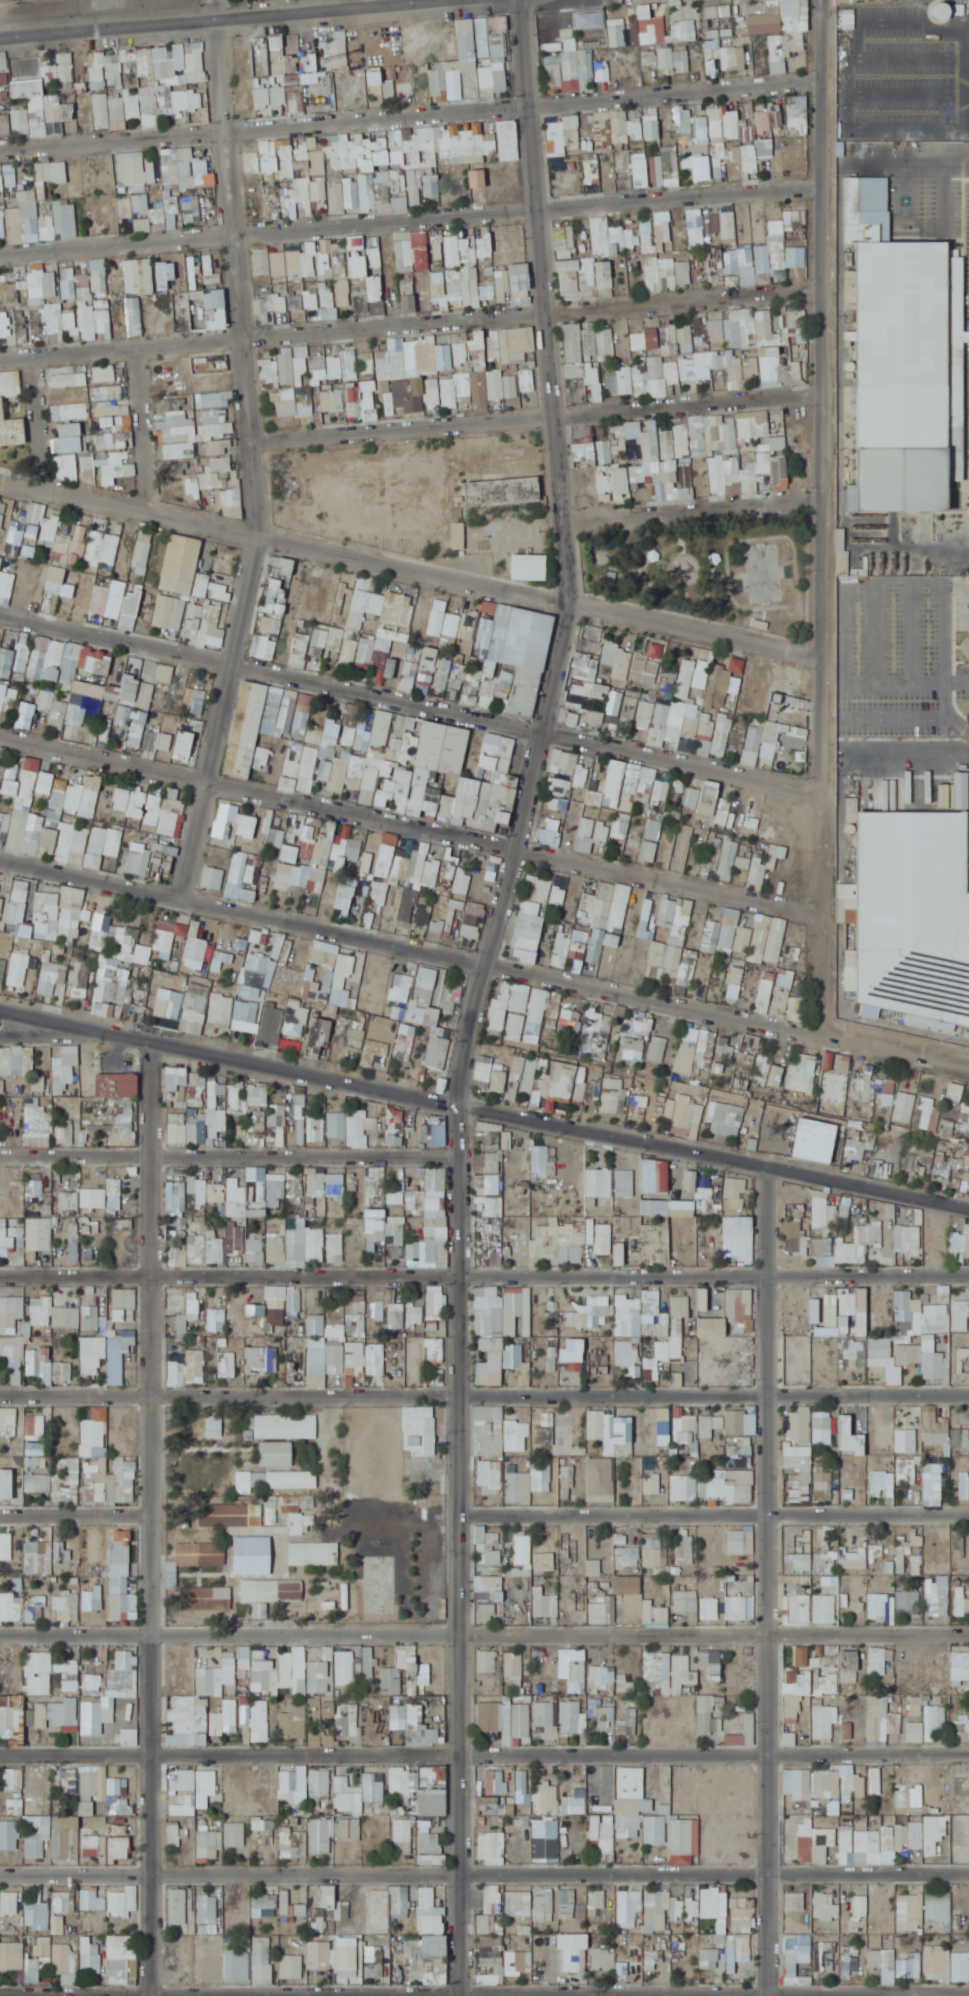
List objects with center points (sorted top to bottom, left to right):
building: (718, 11)
road: (194, 16)
building: (766, 20)
building: (648, 27)
building: (682, 30)
building: (617, 35)
building: (339, 49)
building: (777, 54)
building: (671, 58)
building: (733, 58)
building: (649, 60)
building: (279, 61)
building: (473, 61)
building: (194, 62)
building: (57, 69)
building: (602, 71)
building: (563, 72)
building: (4, 81)
building: (374, 82)
building: (389, 89)
building: (107, 93)
building: (270, 97)
building: (295, 97)
road: (409, 111)
building: (42, 117)
building: (682, 120)
building: (762, 123)
building: (4, 124)
building: (718, 124)
building: (624, 129)
building: (700, 130)
building: (747, 133)
building: (561, 138)
building: (459, 140)
building: (322, 152)
building: (263, 160)
building: (695, 165)
building: (671, 168)
building: (183, 170)
building: (591, 172)
building: (647, 172)
building: (50, 175)
building: (477, 178)
building: (0, 185)
building: (389, 187)
building: (134, 190)
building: (365, 193)
building: (337, 197)
building: (293, 199)
building: (855, 200)
building: (399, 202)
building: (173, 207)
building: (191, 209)
road: (410, 217)
building: (797, 219)
building: (39, 220)
building: (728, 222)
building: (2, 227)
building: (695, 227)
building: (663, 233)
building: (610, 238)
building: (564, 241)
building: (777, 245)
building: (407, 247)
building: (475, 248)
building: (746, 259)
building: (568, 266)
building: (603, 274)
building: (658, 274)
building: (138, 276)
building: (287, 278)
building: (85, 280)
building: (36, 284)
building: (510, 286)
building: (456, 288)
building: (194, 289)
building: (368, 292)
building: (408, 295)
building: (135, 317)
building: (796, 321)
road: (410, 322)
building: (764, 326)
building: (18, 329)
building: (722, 331)
building: (683, 338)
building: (645, 340)
building: (581, 345)
building: (604, 354)
building: (387, 357)
building: (495, 359)
building: (302, 360)
building: (367, 362)
building: (350, 365)
building: (286, 366)
building: (655, 366)
building: (902, 369)
building: (428, 372)
building: (103, 373)
building: (332, 398)
building: (215, 399)
building: (283, 399)
building: (360, 401)
road: (535, 414)
road: (40, 419)
road: (145, 426)
building: (11, 432)
building: (729, 435)
building: (590, 453)
road: (249, 457)
building: (646, 464)
building: (88, 467)
building: (117, 473)
building: (211, 480)
road: (693, 501)
road: (821, 519)
road: (408, 564)
road: (408, 699)
road: (409, 821)
road: (484, 972)
road: (479, 992)
road: (46, 1029)
road: (483, 1113)
road: (229, 1153)
road: (484, 1279)
road: (150, 1519)

